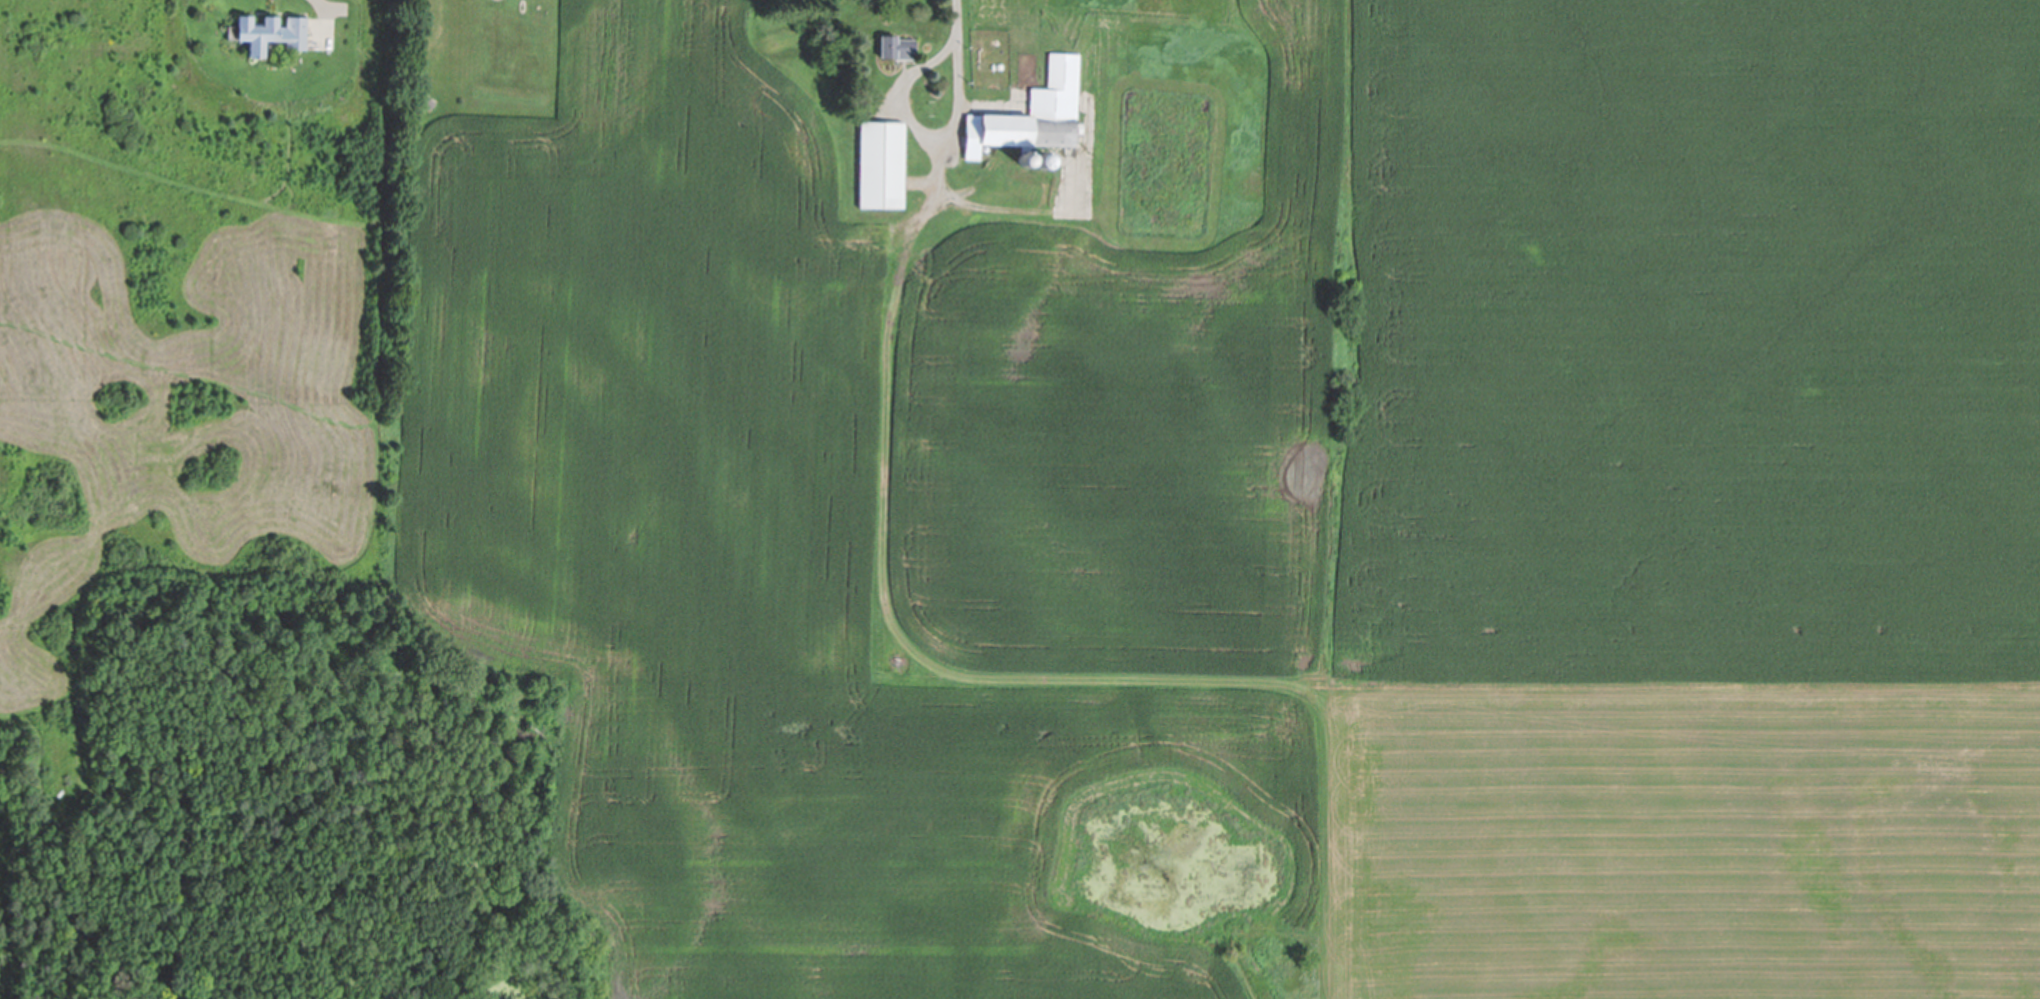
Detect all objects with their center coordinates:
road: (326, 4)
building: (270, 32)
building: (896, 47)
road: (956, 49)
building: (428, 102)
building: (1034, 113)
building: (932, 122)
building: (1024, 159)
building: (1041, 160)
building: (882, 165)

